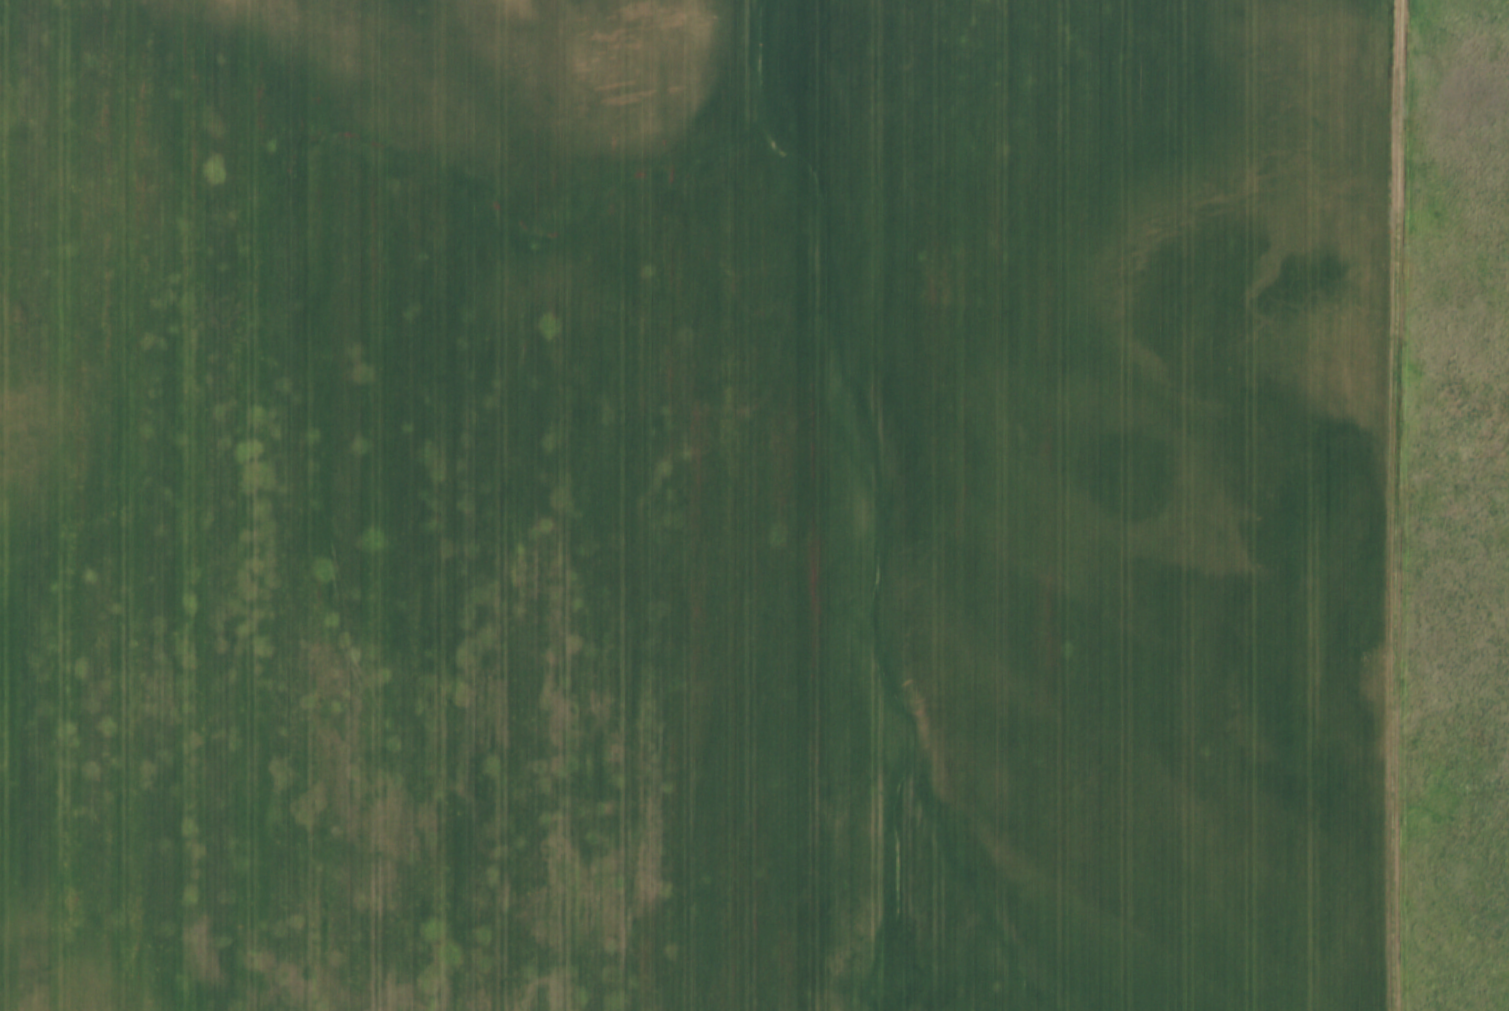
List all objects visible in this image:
road: (1389, 505)

